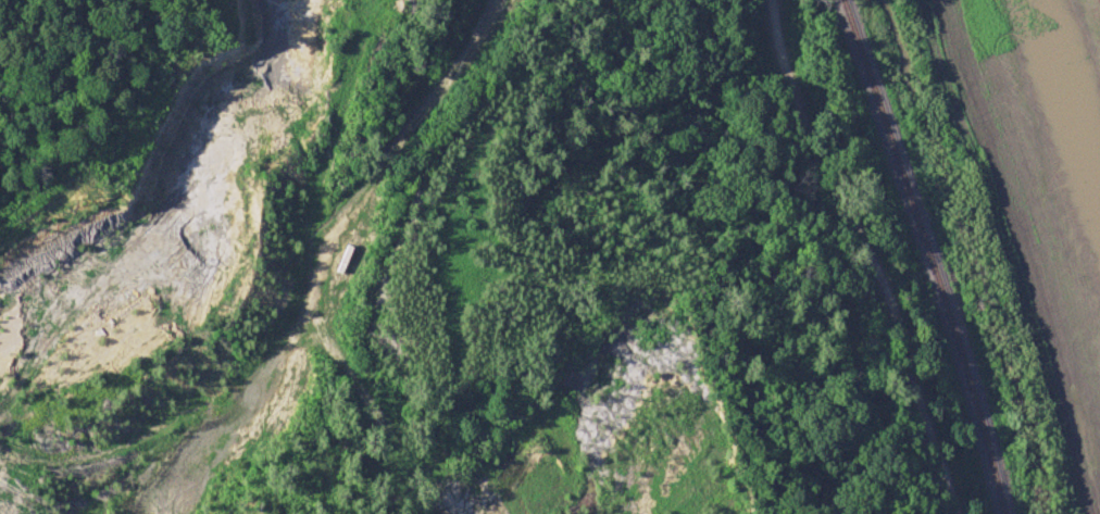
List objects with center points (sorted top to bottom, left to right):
road: (866, 253)
railway: (929, 255)

